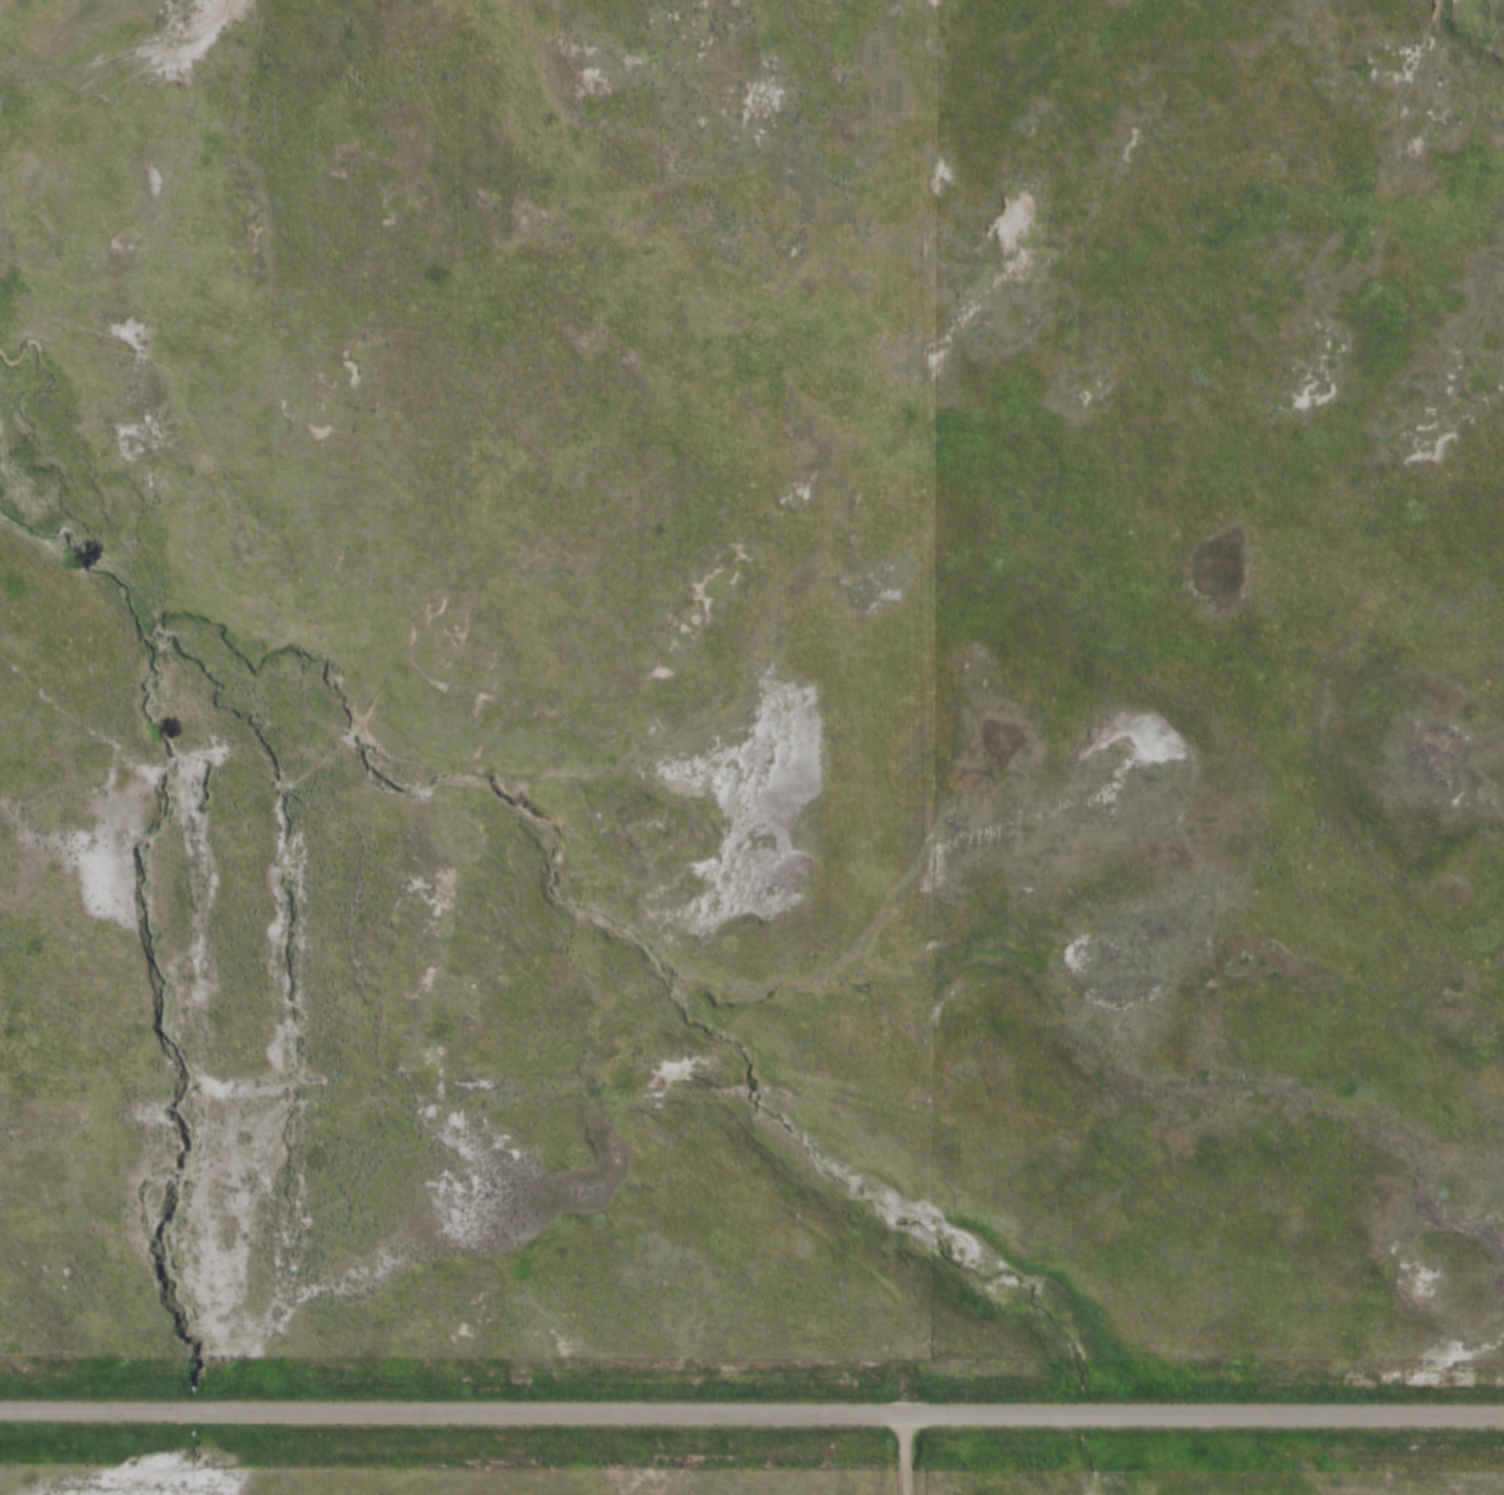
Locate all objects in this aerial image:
road: (751, 1416)
road: (907, 1455)

